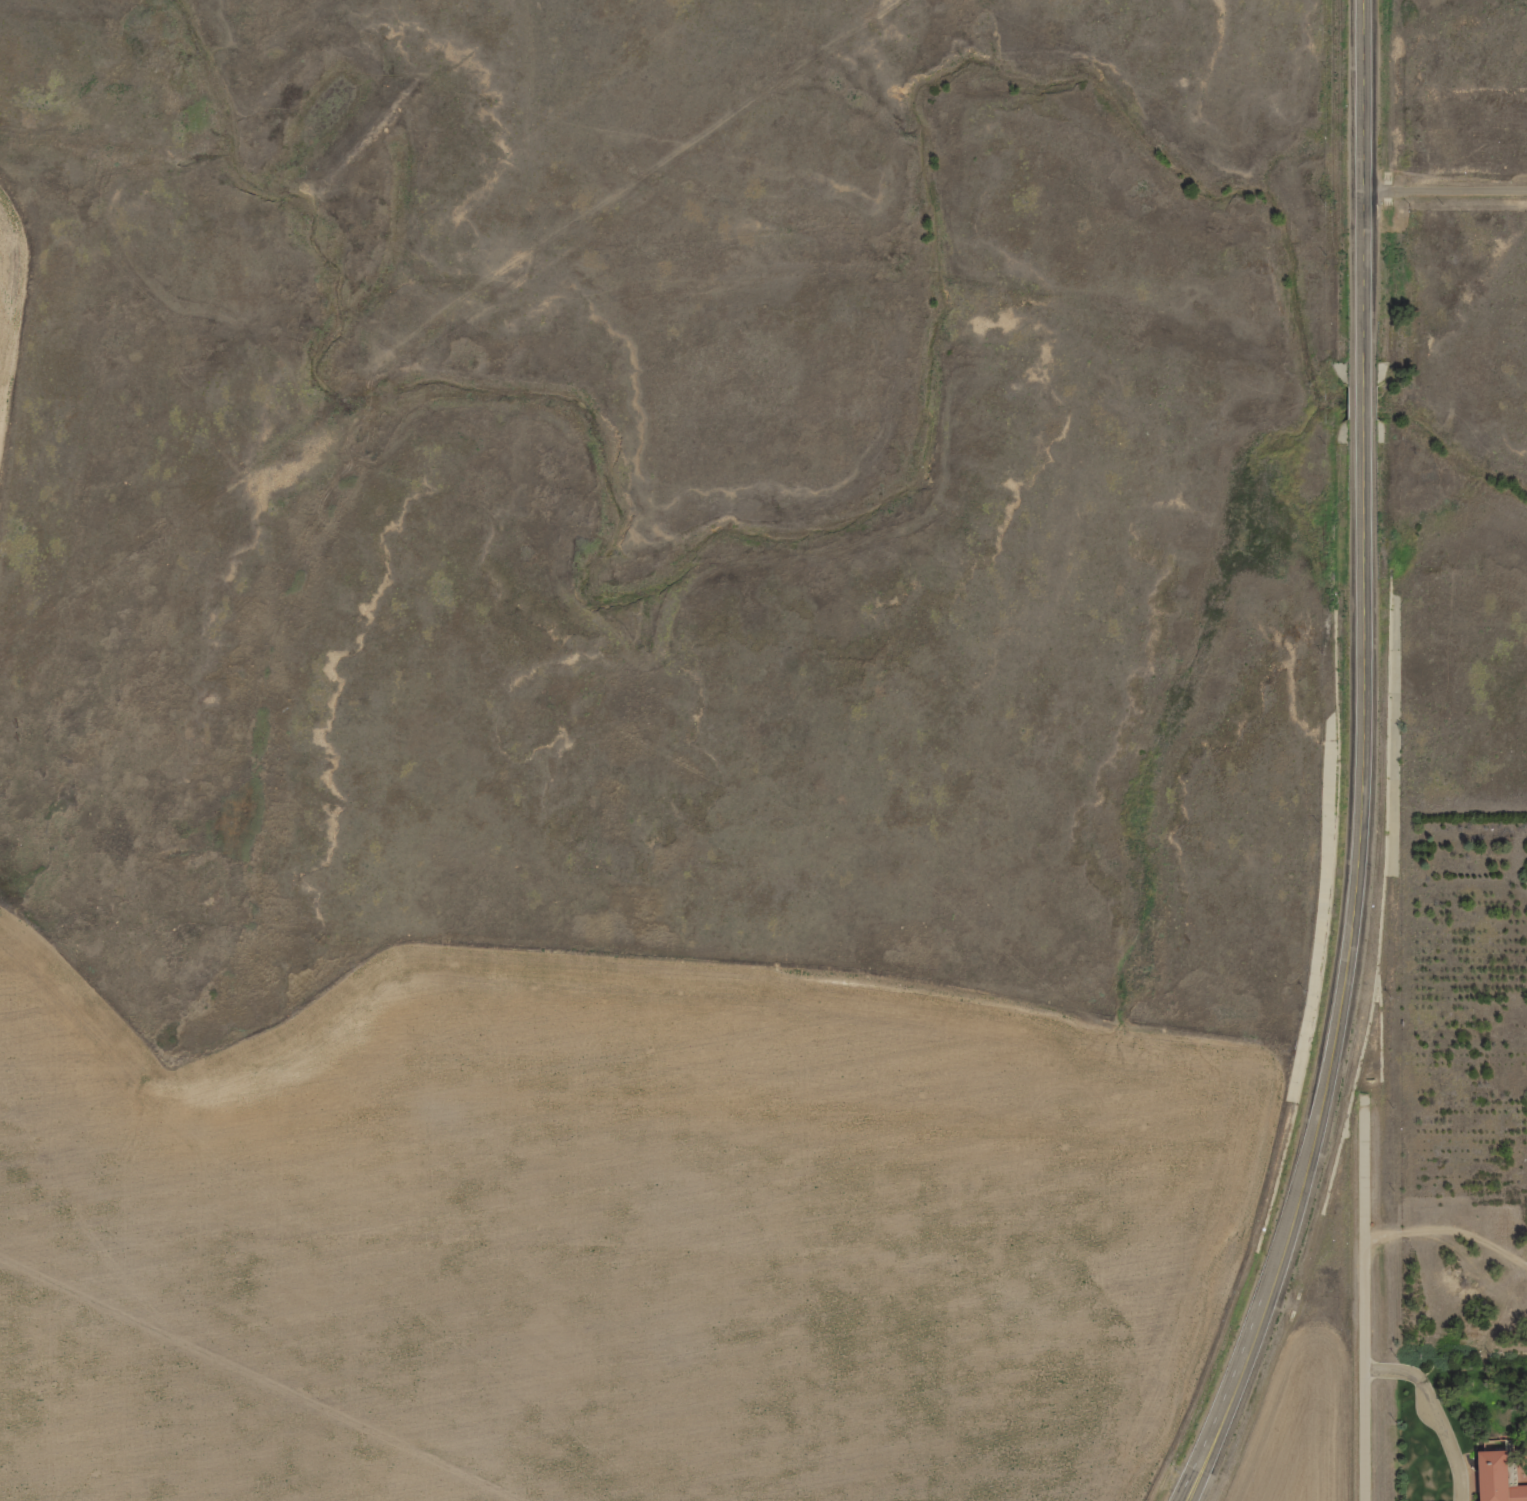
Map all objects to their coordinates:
road: (1444, 188)
road: (1365, 709)
road: (1370, 1196)
road: (1208, 1451)
building: (1493, 1479)

